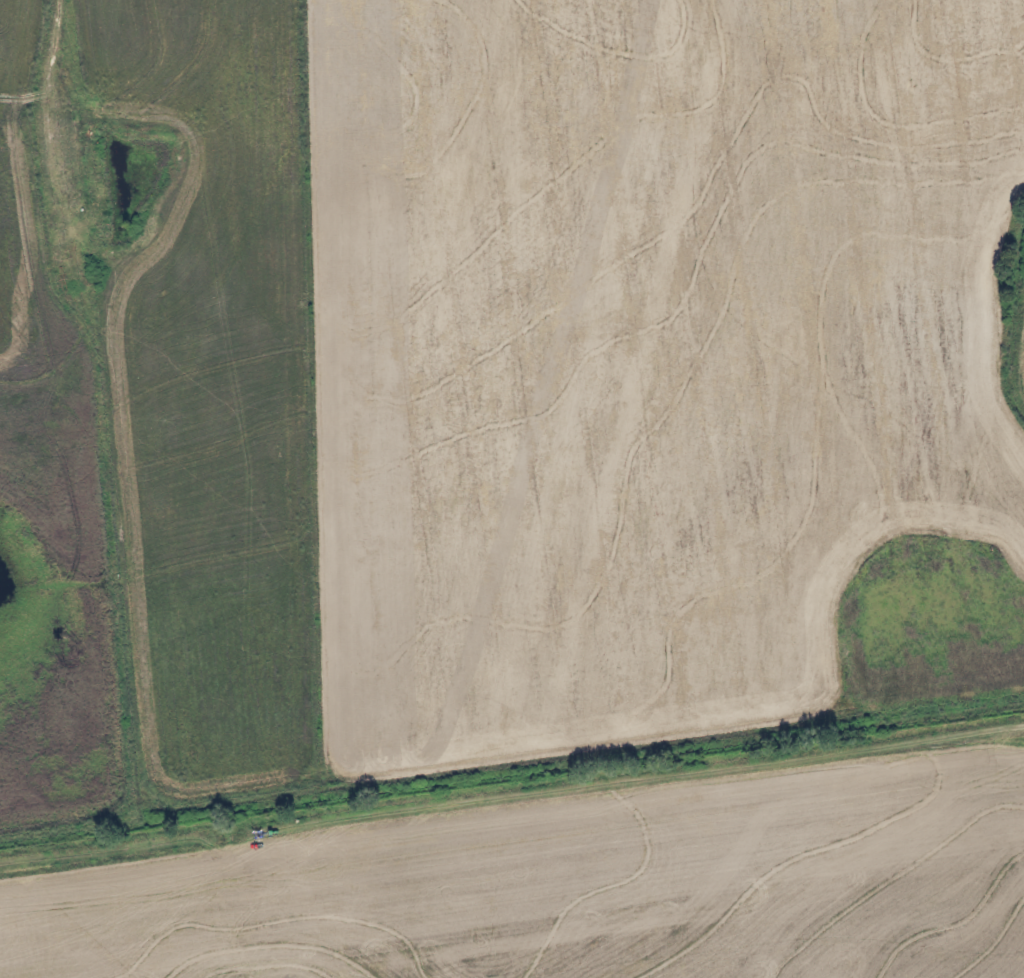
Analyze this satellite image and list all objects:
road: (59, 43)
road: (512, 793)

